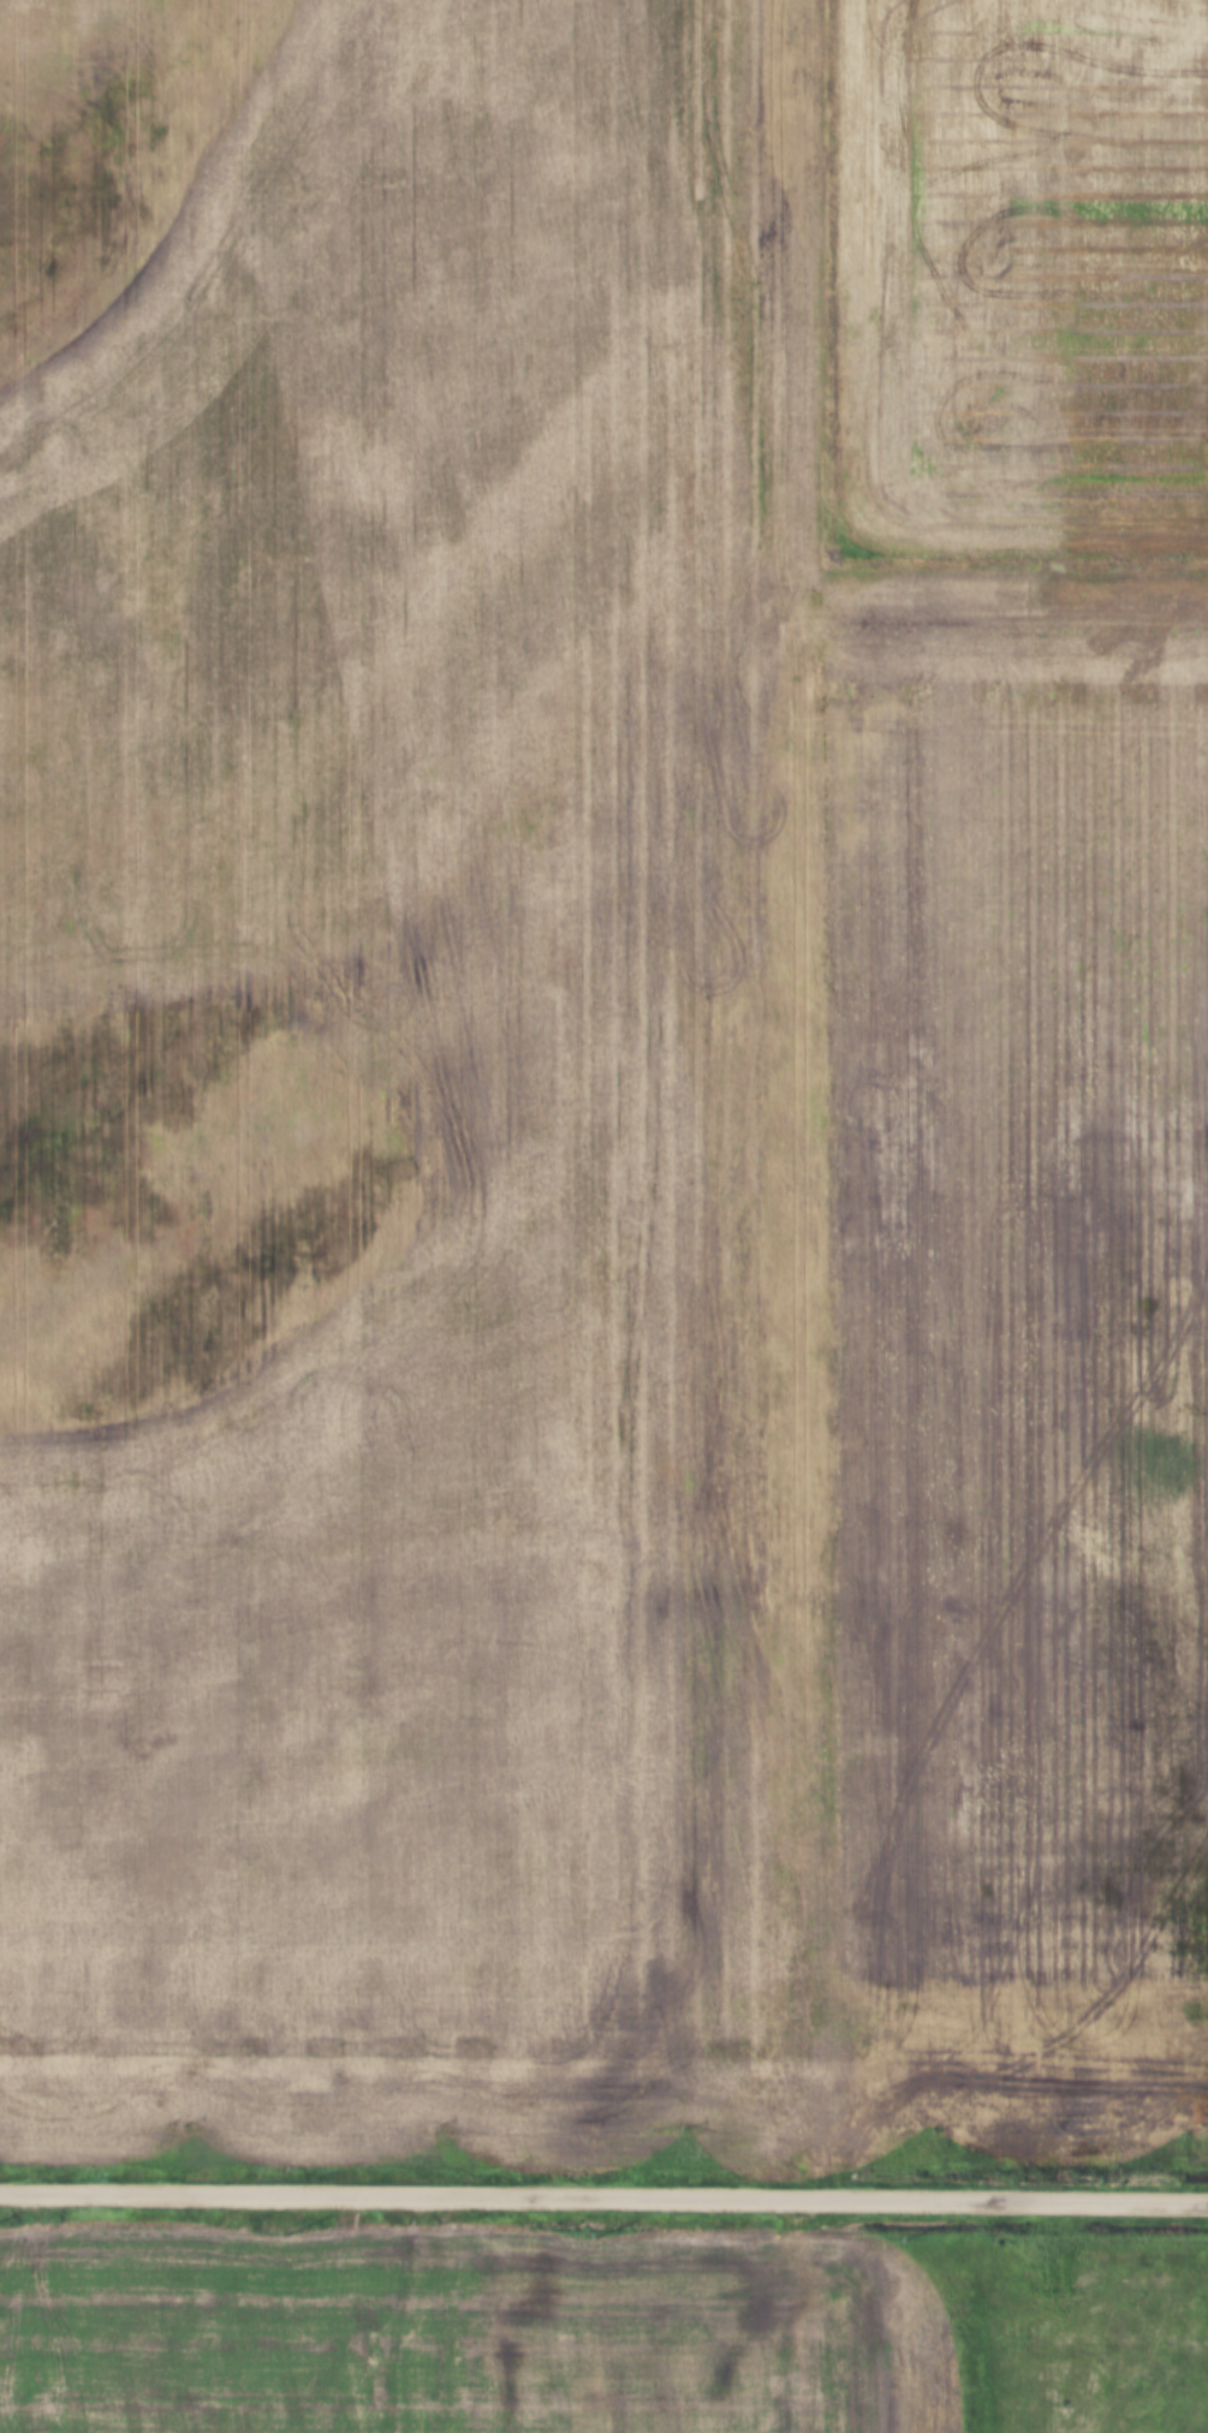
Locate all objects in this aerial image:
road: (603, 2194)

